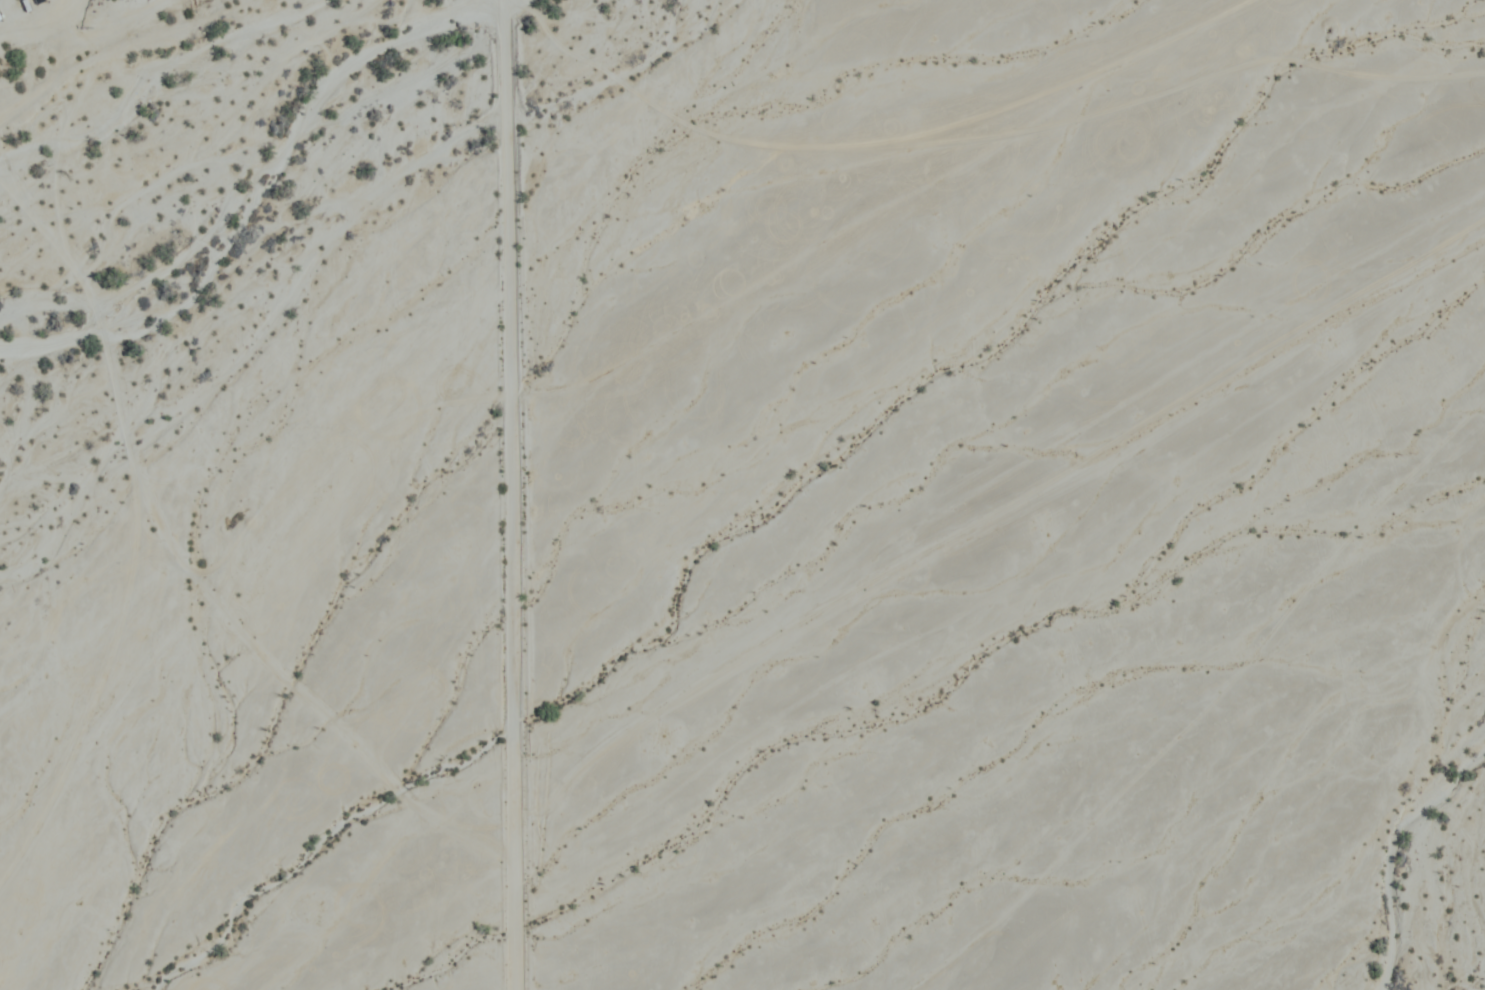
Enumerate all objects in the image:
road: (871, 206)
road: (985, 487)
road: (522, 495)

